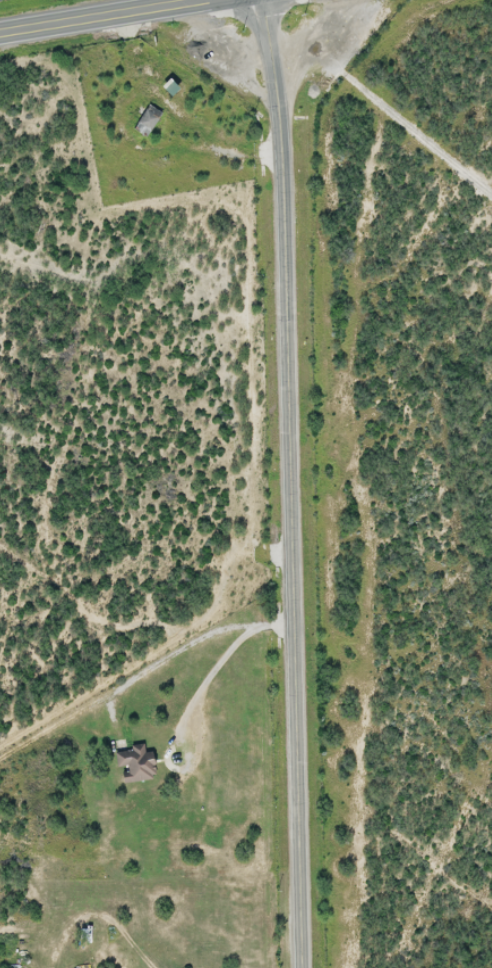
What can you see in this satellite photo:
road: (100, 14)
building: (167, 87)
building: (145, 119)
road: (290, 483)
building: (133, 766)
building: (96, 946)

